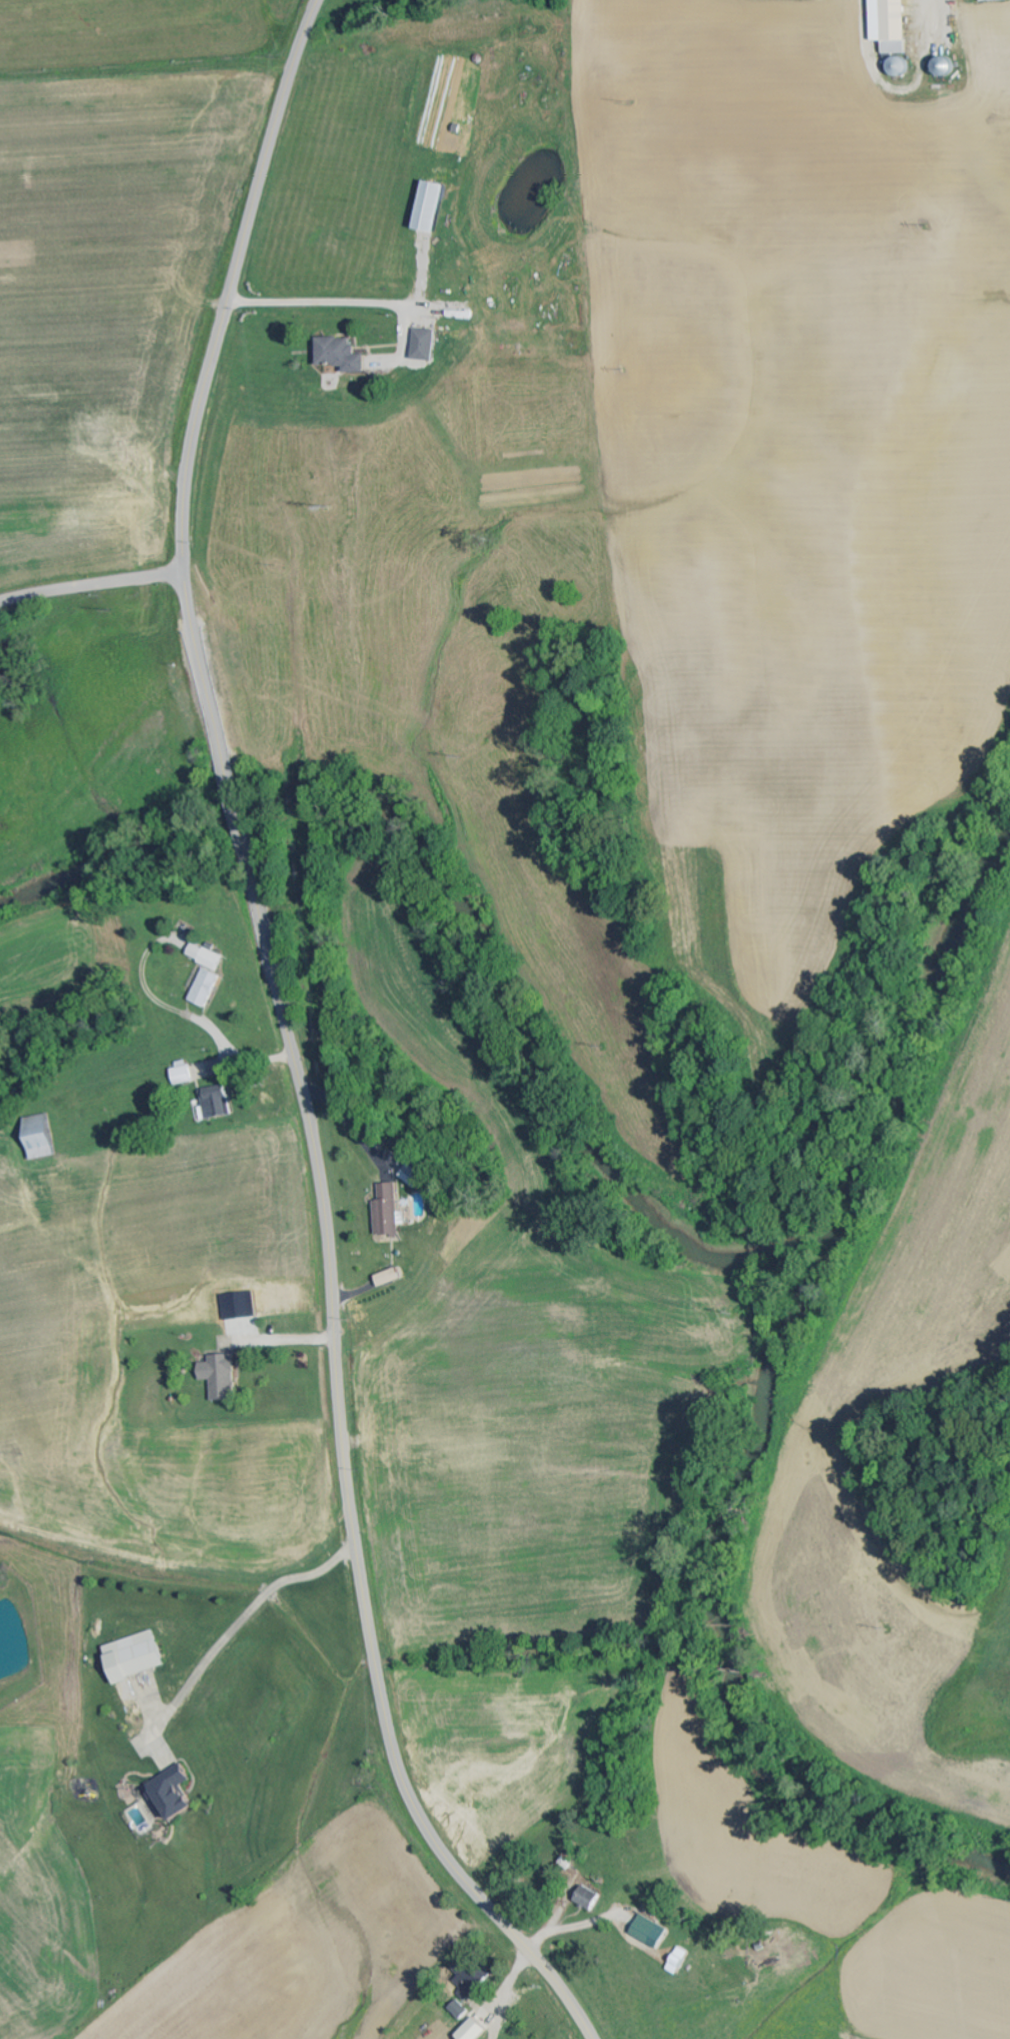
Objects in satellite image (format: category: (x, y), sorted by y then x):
building: (993, 0)
building: (891, 25)
building: (431, 206)
road: (232, 283)
building: (425, 344)
building: (340, 354)
road: (93, 586)
road: (205, 678)
road: (240, 825)
building: (206, 956)
building: (206, 988)
building: (182, 1073)
building: (217, 1103)
building: (39, 1138)
building: (413, 1175)
building: (390, 1212)
building: (389, 1278)
building: (221, 1377)
road: (349, 1484)
building: (135, 1658)
building: (173, 1792)
building: (588, 1897)
building: (651, 1931)
building: (469, 1985)
building: (460, 2009)
building: (473, 2030)

